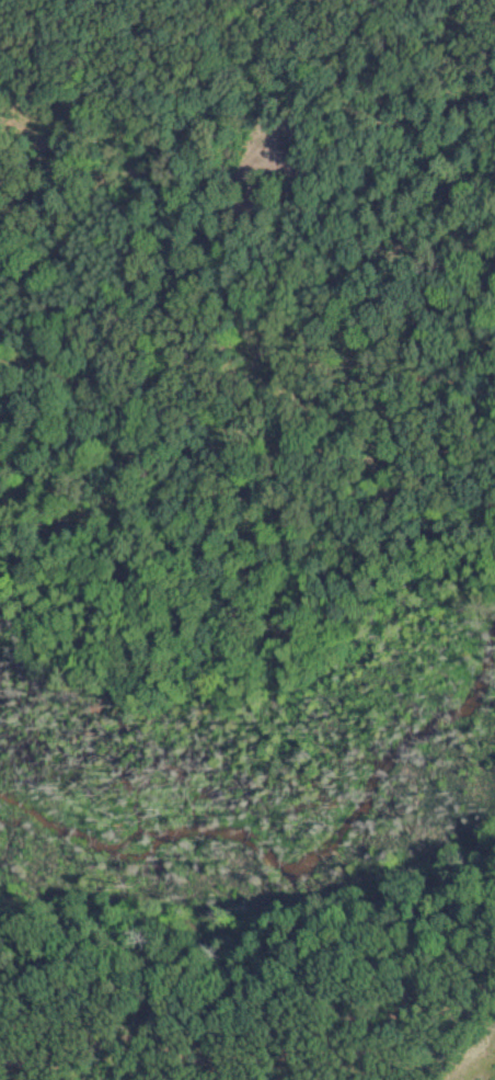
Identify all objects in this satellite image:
wastewater plant: (334, 1045)

